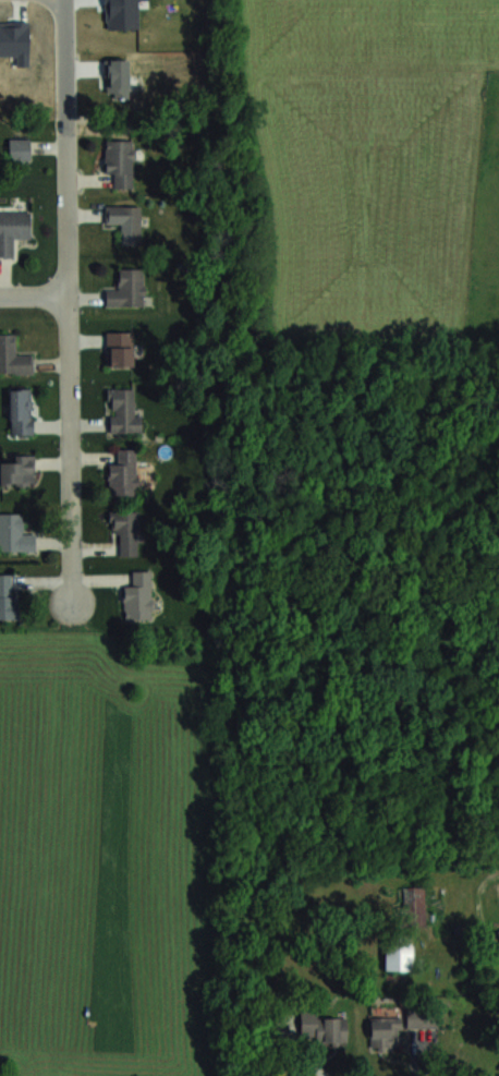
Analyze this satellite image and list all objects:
road: (66, 61)
building: (20, 149)
building: (120, 161)
building: (125, 221)
building: (12, 230)
building: (126, 288)
road: (35, 290)
building: (119, 348)
building: (13, 355)
road: (70, 365)
building: (21, 410)
building: (123, 411)
building: (17, 469)
building: (123, 474)
building: (14, 533)
building: (125, 533)
building: (8, 595)
building: (138, 595)
crop: (111, 850)
building: (398, 952)
building: (421, 1026)
building: (321, 1028)
building: (385, 1032)

